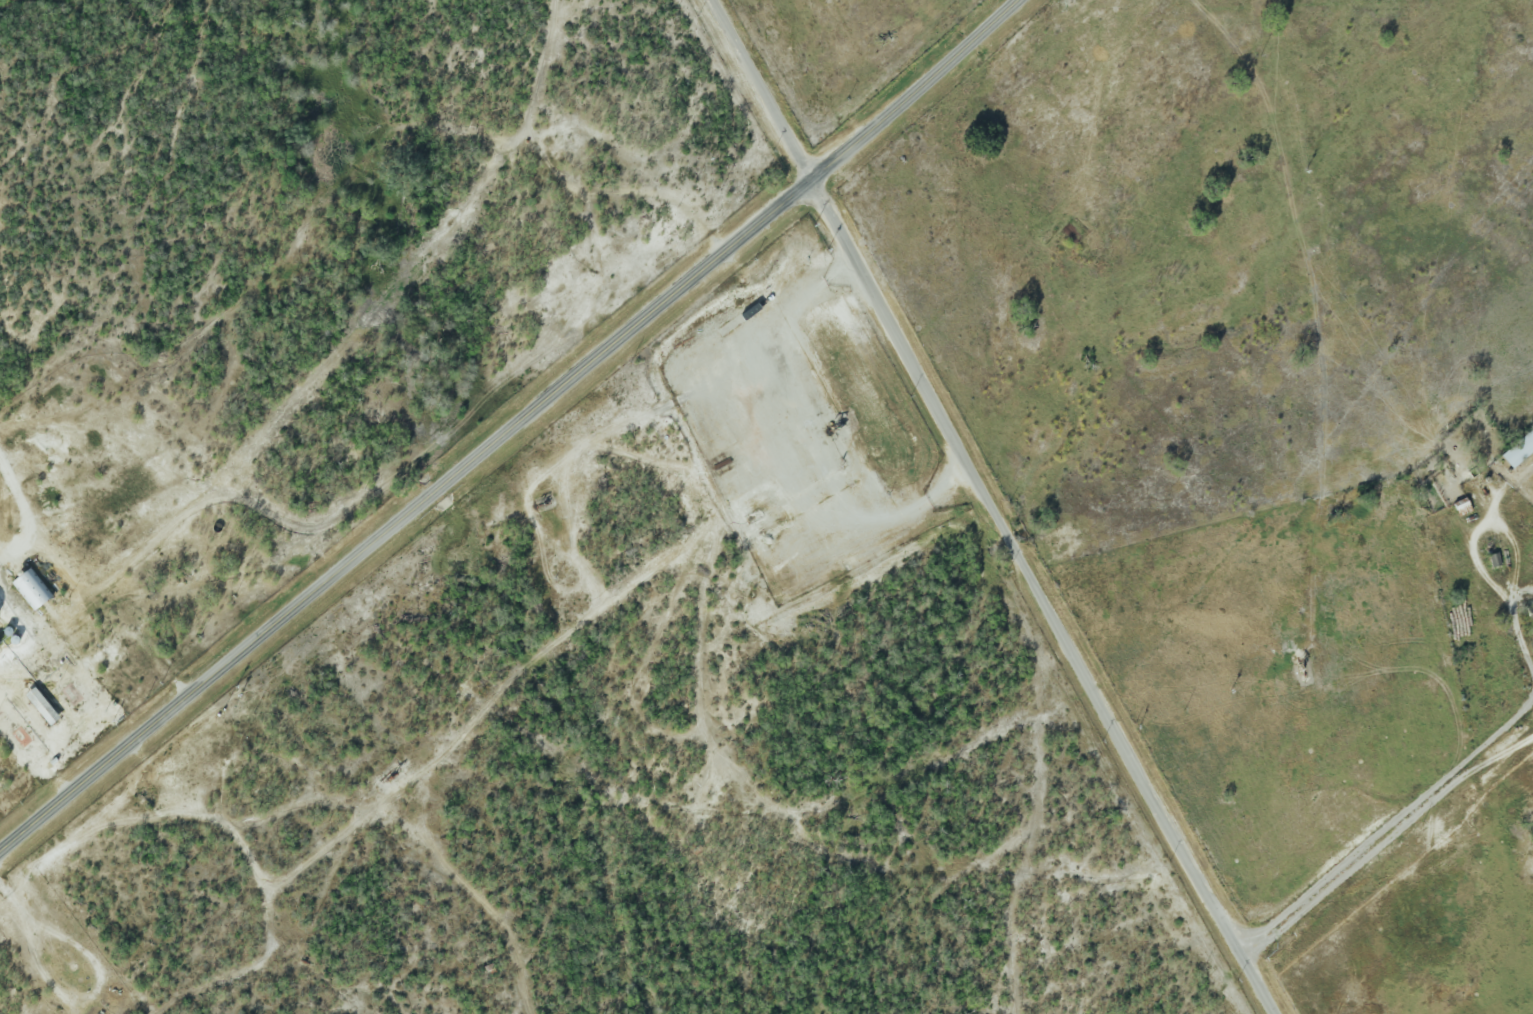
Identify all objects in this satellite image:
road: (512, 428)
petroleum well: (834, 428)
building: (1519, 449)
road: (1000, 506)
road: (903, 513)
road: (1486, 524)
road: (3, 552)
building: (32, 588)
building: (1532, 616)
road: (1520, 636)
building: (42, 706)
road: (1490, 738)
road: (1381, 829)

